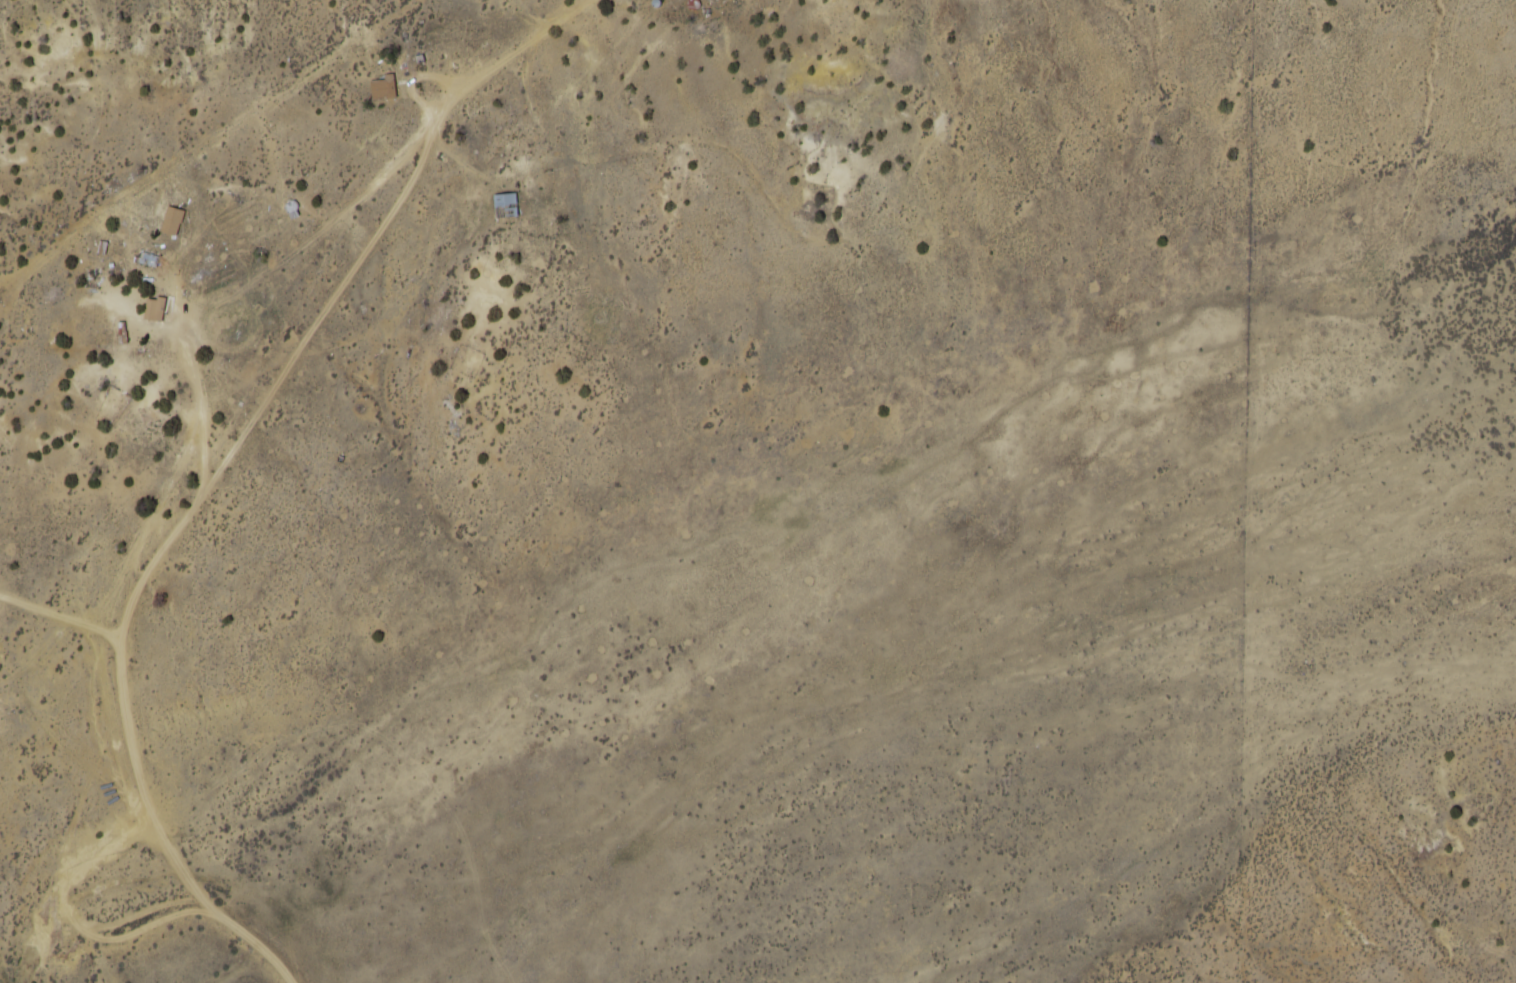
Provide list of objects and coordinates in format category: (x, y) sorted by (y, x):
building: (381, 89)
building: (511, 203)
building: (172, 221)
road: (228, 455)

